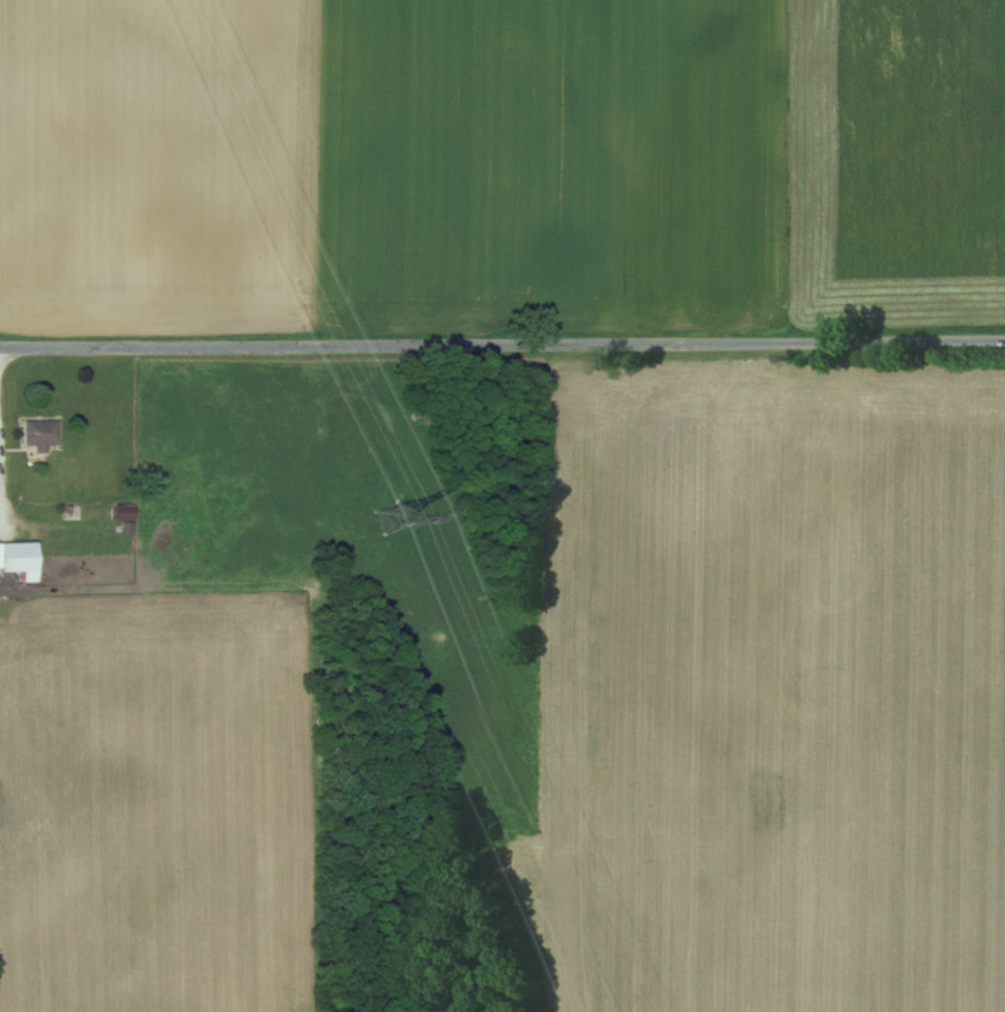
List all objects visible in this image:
road: (502, 345)
building: (39, 433)
power tower: (387, 519)
building: (18, 558)

